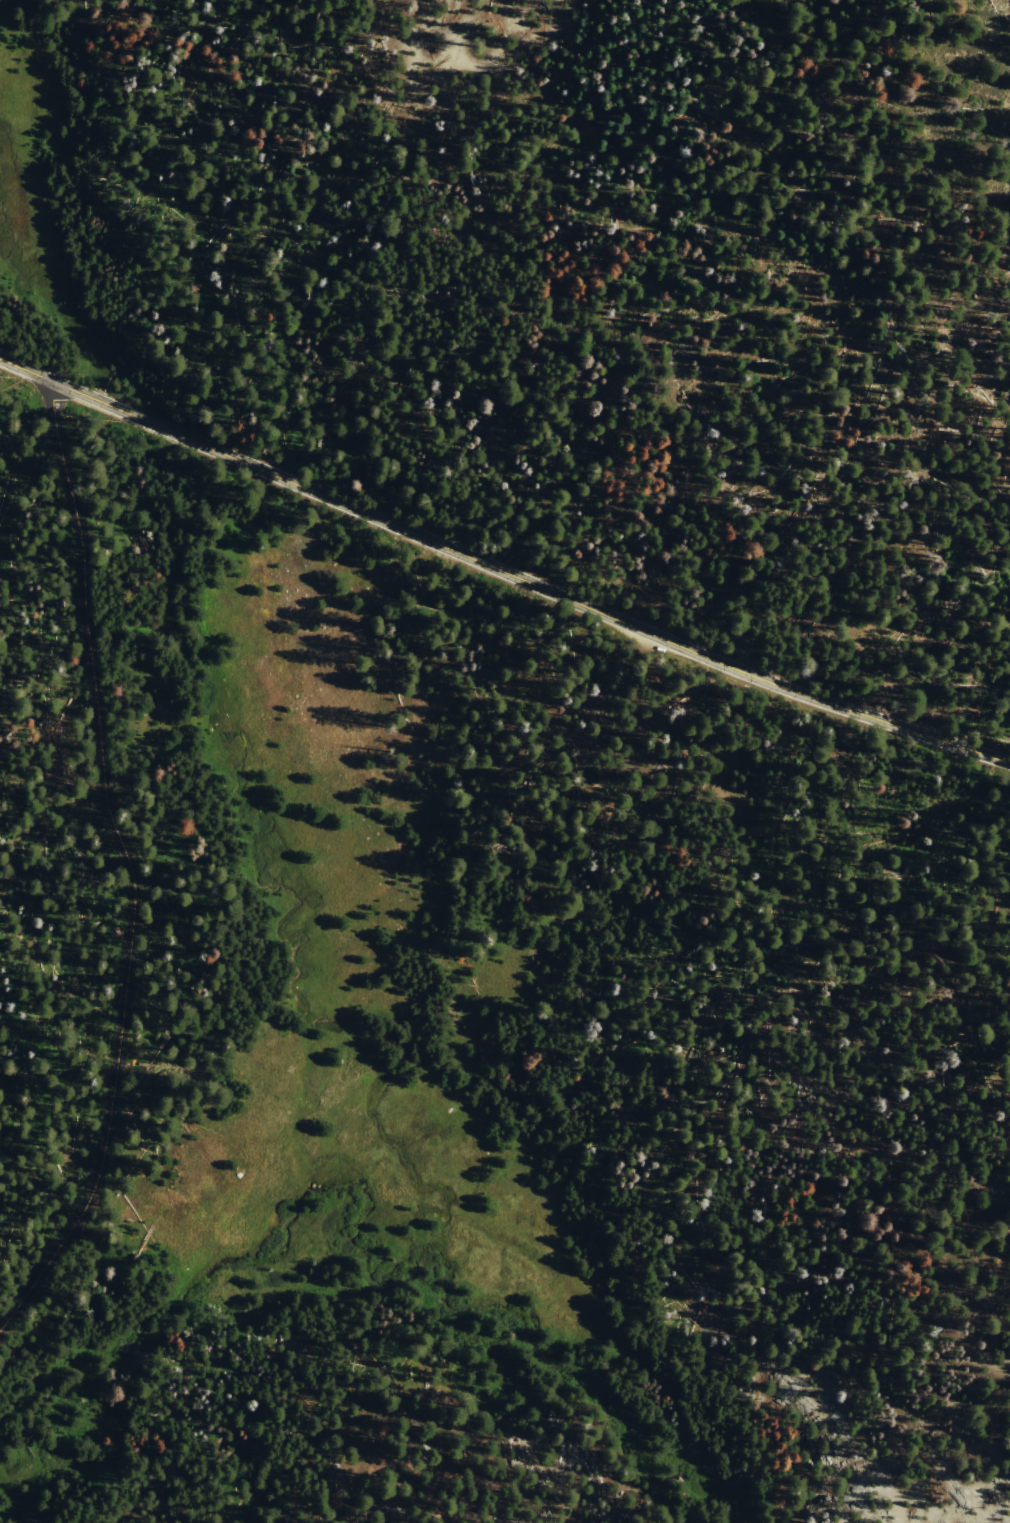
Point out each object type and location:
road: (500, 568)
road: (125, 861)
building: (410, 1400)
road: (413, 1421)

